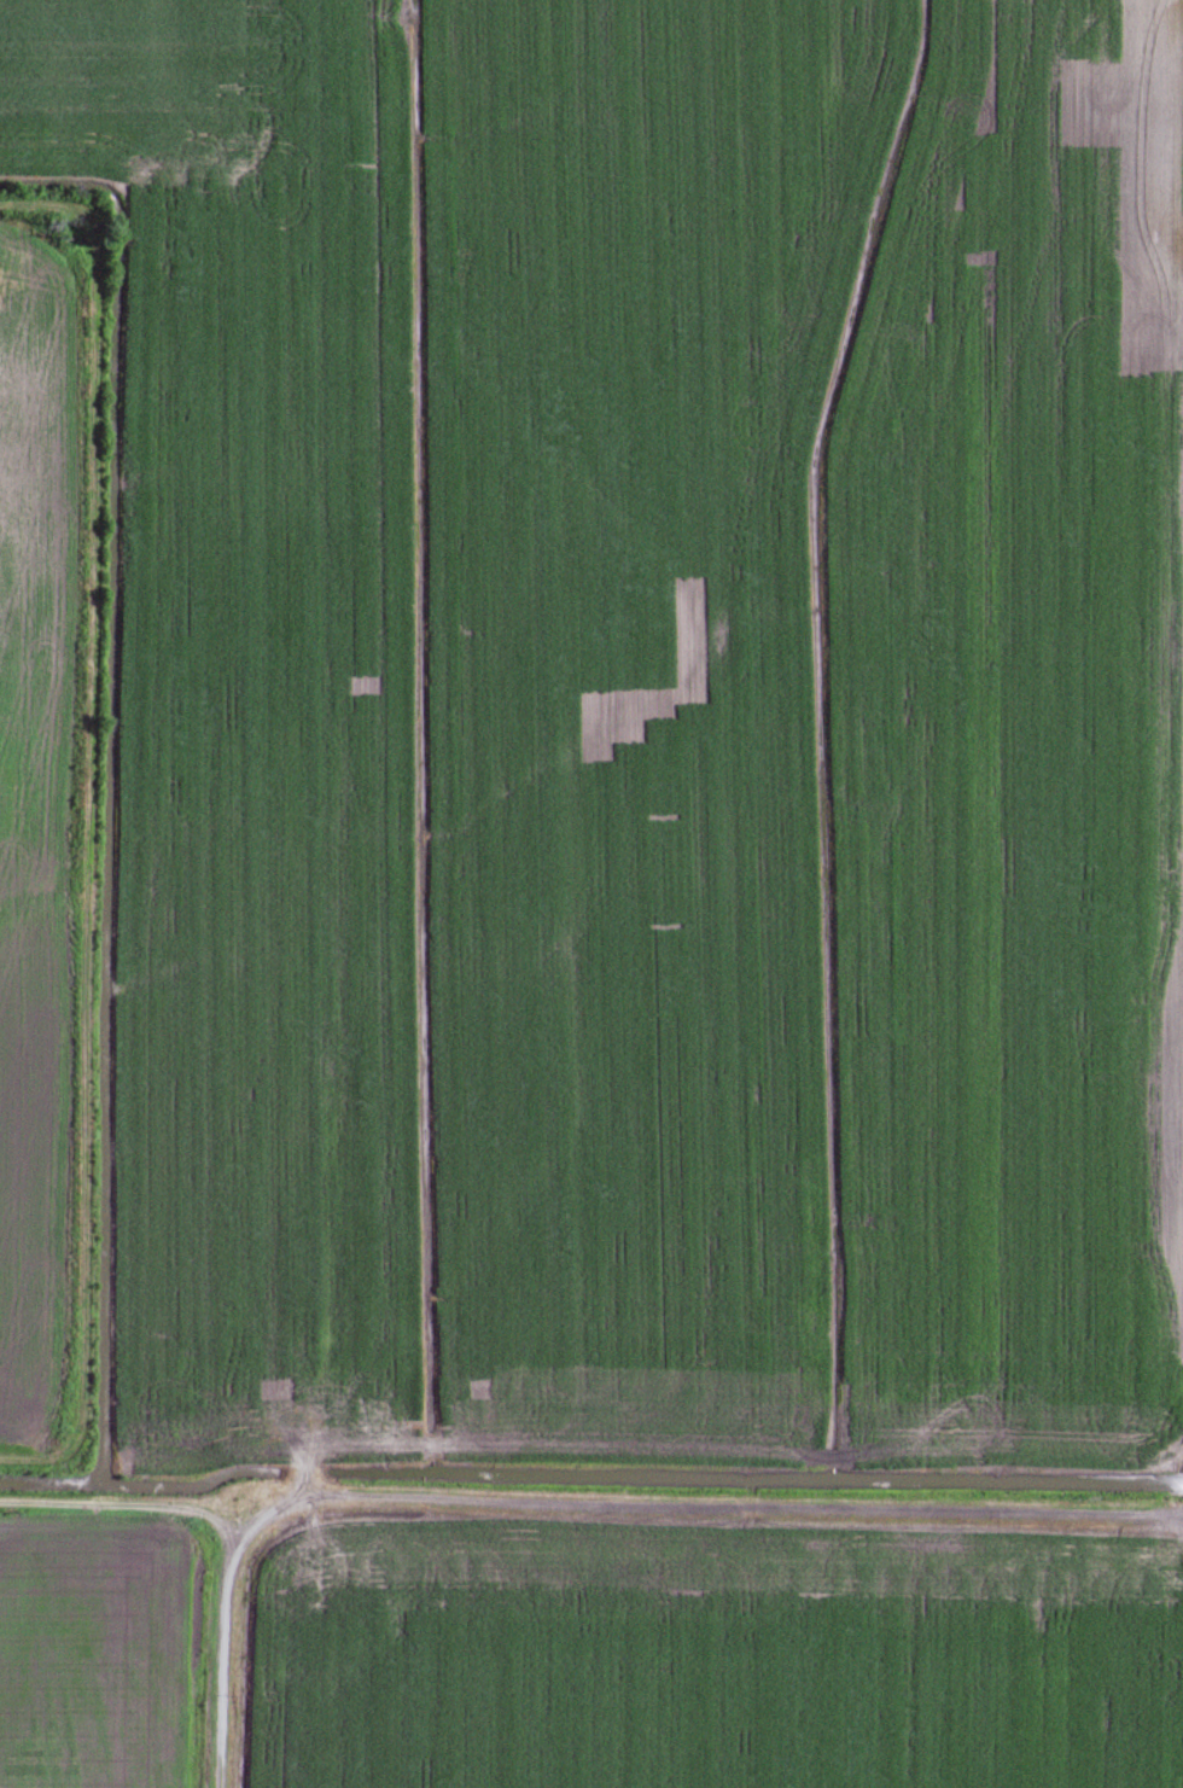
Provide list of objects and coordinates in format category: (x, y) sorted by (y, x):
road: (223, 1543)

